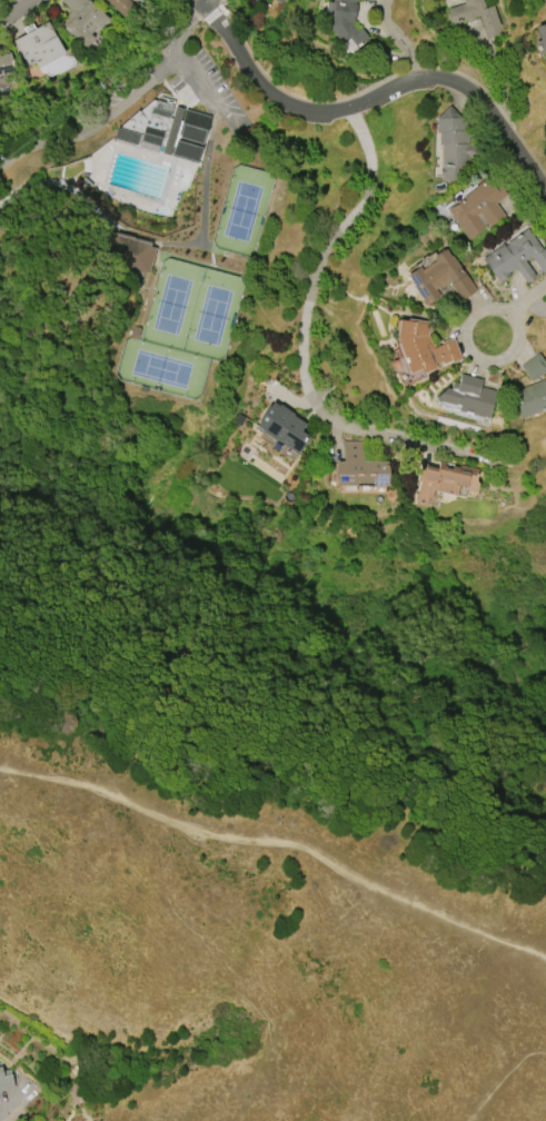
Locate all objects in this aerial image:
road: (200, 1)
building: (258, 1)
building: (278, 1)
building: (120, 4)
road: (18, 11)
building: (476, 16)
building: (83, 20)
building: (344, 22)
building: (540, 38)
road: (398, 40)
building: (38, 44)
building: (6, 63)
road: (113, 98)
road: (370, 99)
building: (166, 130)
road: (215, 143)
building: (454, 146)
building: (477, 208)
building: (135, 257)
building: (515, 257)
building: (440, 277)
road: (517, 309)
building: (421, 346)
road: (310, 353)
building: (534, 367)
building: (467, 396)
building: (530, 398)
building: (282, 427)
building: (359, 468)
building: (443, 480)
road: (281, 839)
building: (6, 1079)
road: (17, 1102)

